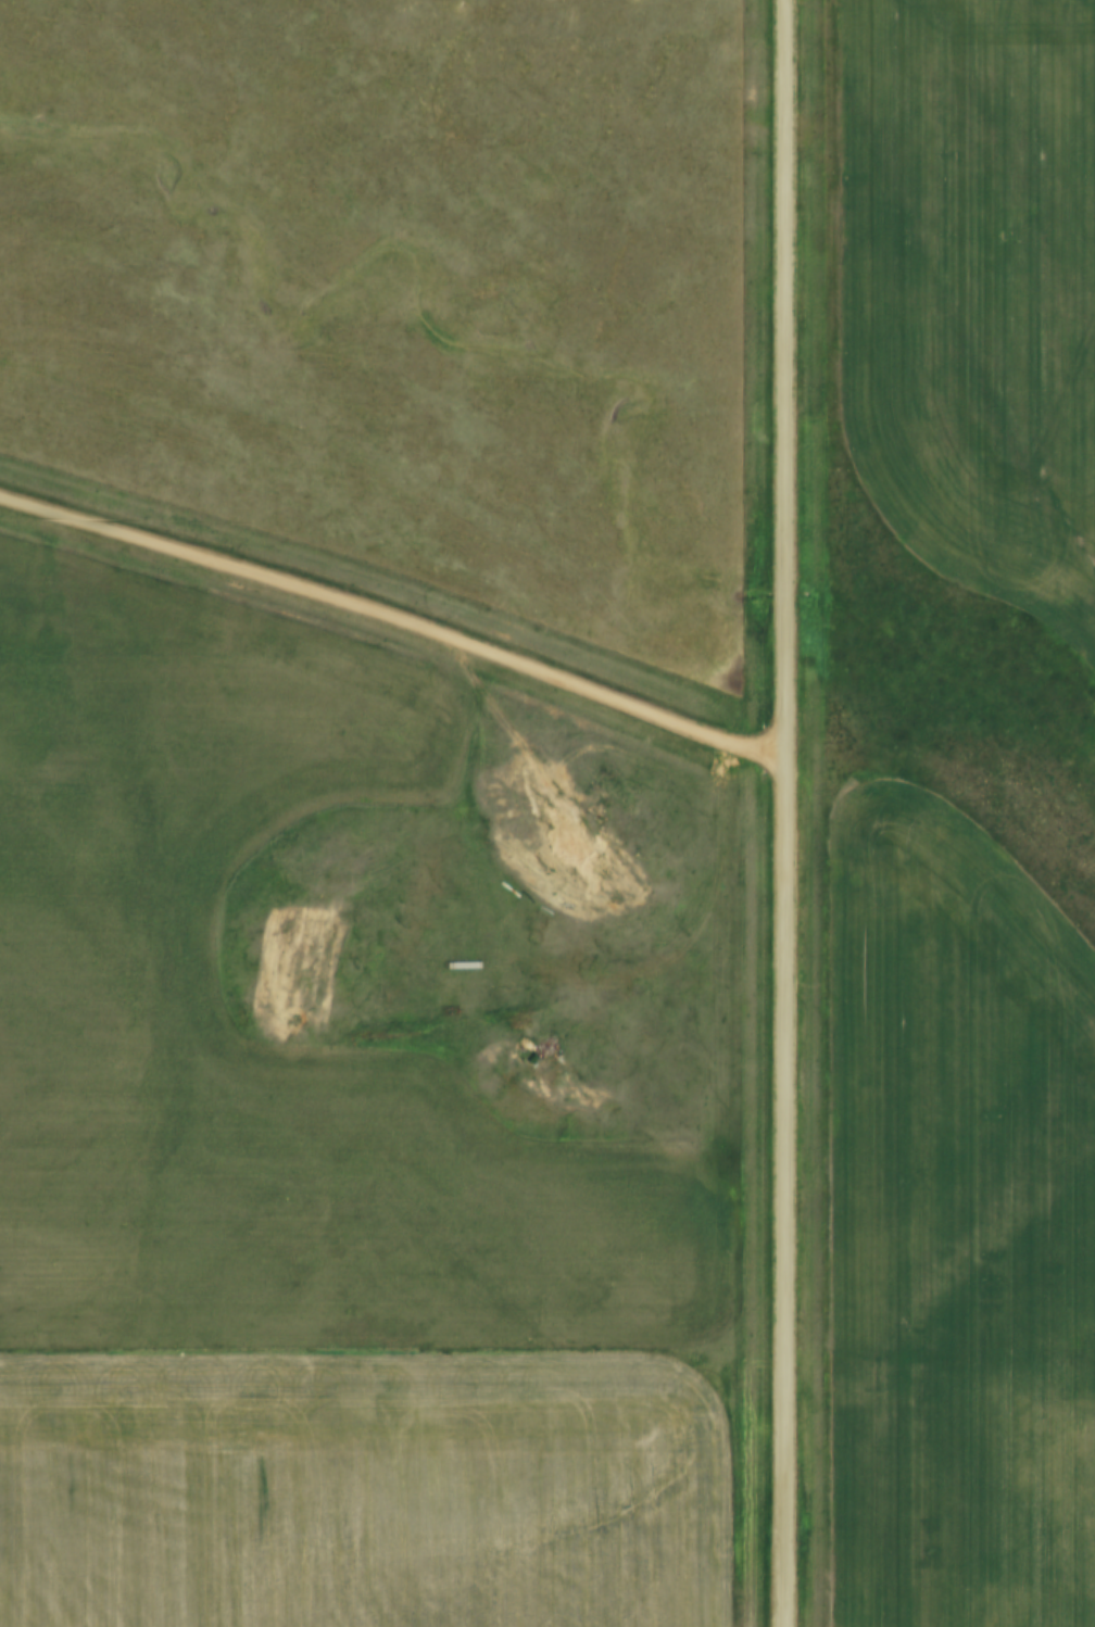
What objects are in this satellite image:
road: (395, 615)
road: (785, 812)

